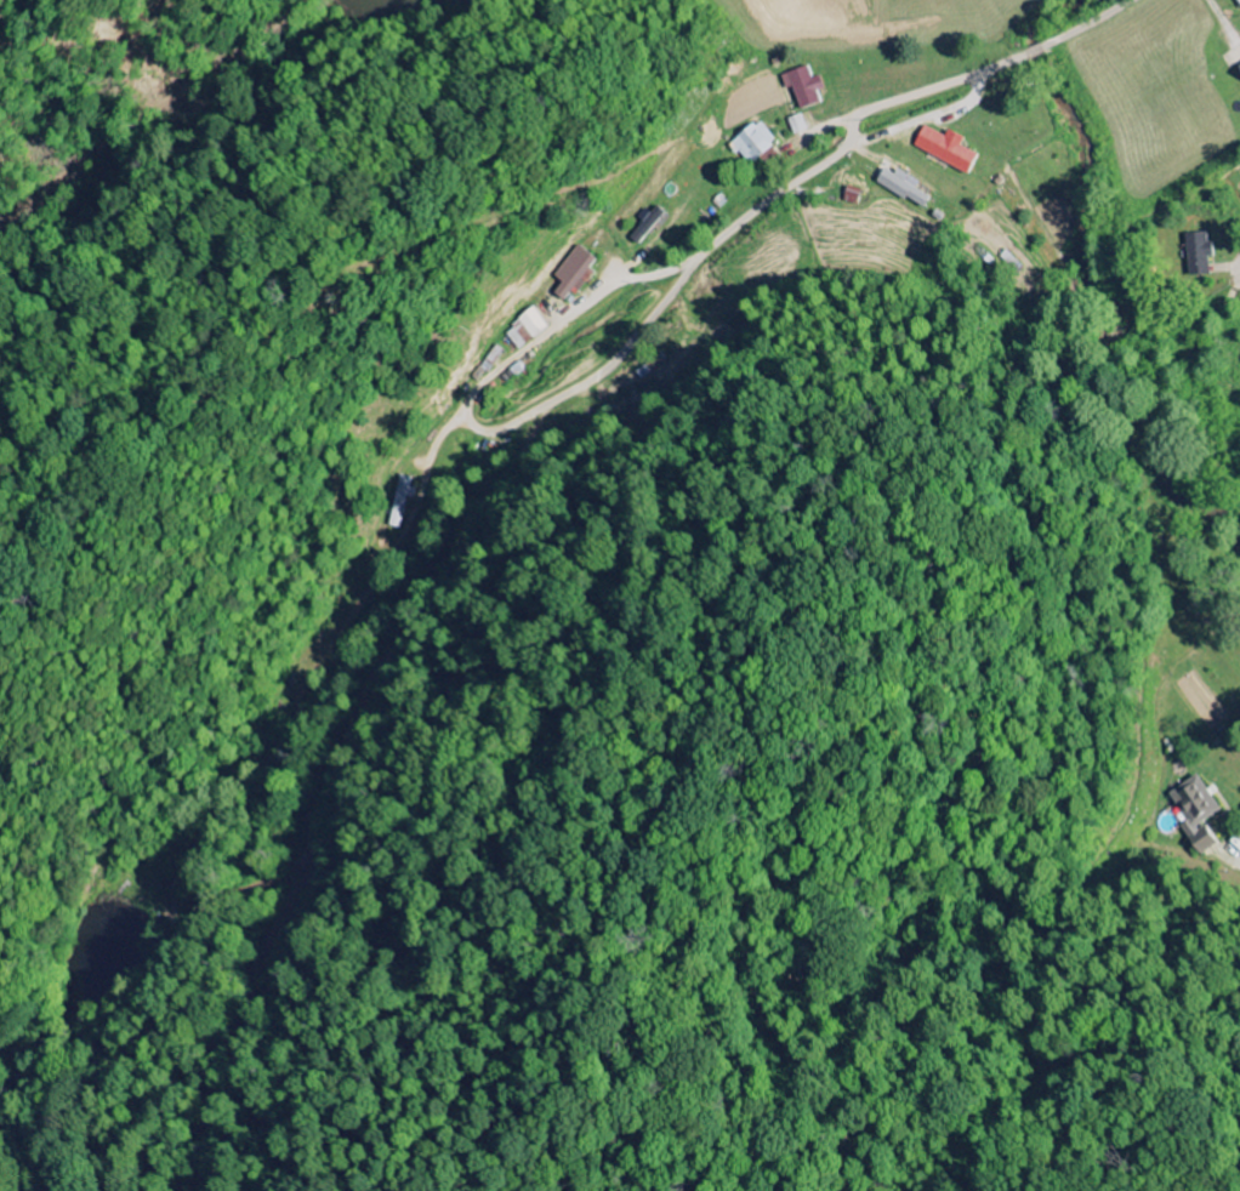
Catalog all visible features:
road: (1074, 34)
building: (1238, 73)
building: (809, 87)
river: (1073, 126)
building: (757, 143)
building: (951, 149)
building: (909, 188)
building: (652, 224)
building: (1194, 253)
building: (579, 272)
road: (1239, 278)
building: (528, 330)
building: (1195, 813)

